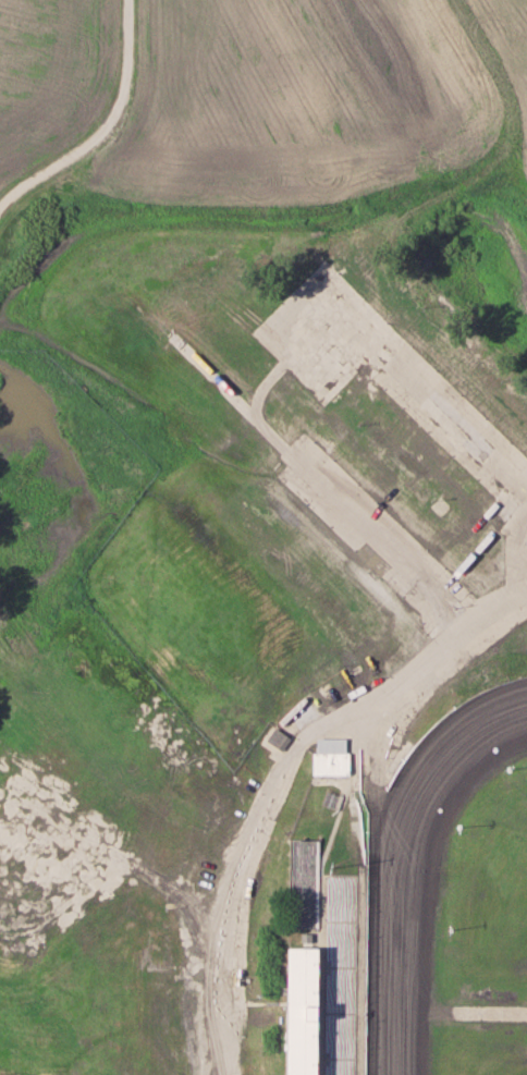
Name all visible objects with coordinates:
crop: (48, 69)
crop: (321, 117)
road: (105, 126)
building: (277, 740)
building: (329, 757)
raceway: (417, 865)
road: (237, 900)
building: (324, 969)

